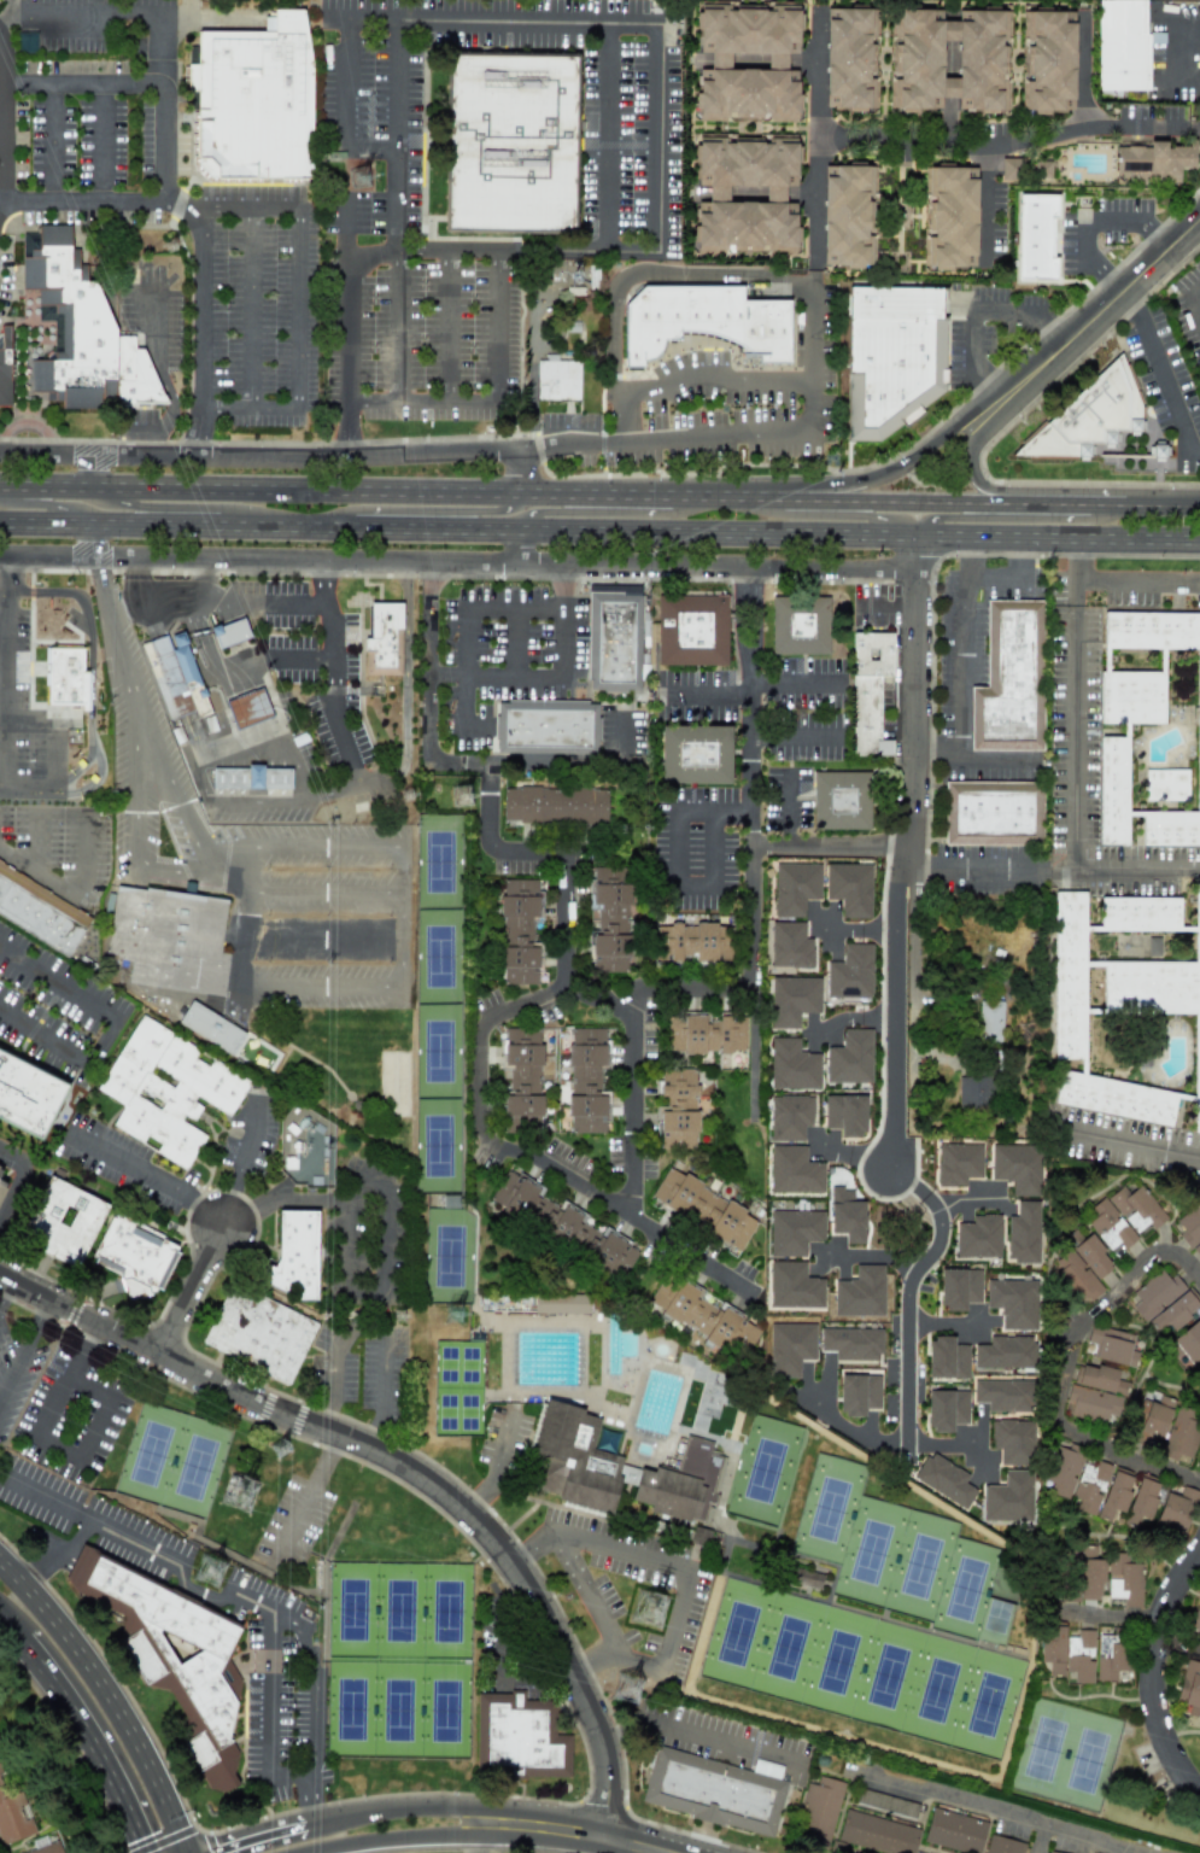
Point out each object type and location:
road: (165, 17)
road: (556, 19)
building: (27, 41)
road: (1189, 42)
building: (1122, 45)
building: (949, 60)
building: (745, 62)
building: (1047, 62)
road: (1079, 71)
road: (84, 82)
building: (1199, 84)
road: (400, 86)
building: (254, 100)
road: (6, 119)
road: (1106, 124)
road: (1199, 130)
road: (1199, 131)
road: (608, 135)
road: (53, 141)
road: (106, 141)
building: (511, 141)
road: (831, 144)
road: (634, 146)
road: (370, 150)
building: (1154, 162)
building: (1011, 169)
building: (1043, 171)
power tower: (365, 177)
road: (985, 188)
building: (744, 194)
road: (812, 199)
road: (88, 200)
road: (188, 203)
building: (847, 215)
building: (948, 218)
road: (1113, 224)
road: (1153, 236)
building: (1035, 239)
road: (1083, 245)
power tower: (175, 246)
road: (503, 250)
road: (810, 268)
road: (708, 273)
road: (1102, 273)
road: (397, 275)
road: (299, 280)
road: (1130, 297)
road: (1001, 311)
road: (1089, 316)
building: (703, 320)
road: (449, 326)
road: (349, 328)
road: (1041, 329)
building: (80, 332)
road: (973, 344)
building: (896, 353)
building: (4, 366)
building: (557, 378)
road: (162, 380)
road: (1164, 382)
road: (713, 387)
road: (984, 390)
road: (492, 397)
road: (227, 409)
building: (1089, 416)
parking lot: (567, 420)
road: (193, 431)
road: (1001, 432)
road: (267, 443)
road: (911, 445)
road: (478, 451)
road: (47, 454)
road: (121, 455)
road: (93, 469)
road: (517, 472)
road: (973, 472)
road: (877, 477)
road: (46, 485)
road: (428, 490)
road: (892, 501)
road: (1072, 504)
road: (1161, 504)
road: (47, 505)
road: (178, 505)
road: (428, 510)
road: (608, 512)
road: (841, 515)
road: (1007, 518)
road: (457, 525)
road: (1056, 536)
road: (516, 544)
road: (914, 551)
road: (970, 554)
road: (970, 556)
road: (1023, 556)
road: (1076, 557)
road: (456, 561)
road: (41, 569)
road: (487, 575)
road: (997, 577)
road: (1035, 577)
road: (1137, 580)
road: (4, 595)
road: (1199, 596)
road: (267, 600)
road: (515, 607)
road: (147, 608)
road: (888, 608)
road: (563, 620)
building: (798, 625)
road: (107, 626)
building: (691, 630)
building: (229, 632)
road: (30, 637)
building: (382, 638)
road: (515, 641)
building: (613, 641)
road: (280, 656)
road: (90, 664)
road: (960, 664)
road: (464, 670)
road: (494, 673)
road: (6, 674)
building: (64, 676)
building: (175, 676)
building: (1009, 678)
road: (796, 683)
road: (404, 686)
building: (868, 691)
road: (707, 696)
road: (753, 702)
building: (248, 708)
building: (546, 726)
building: (1151, 727)
road: (49, 738)
road: (796, 738)
building: (693, 753)
road: (920, 755)
road: (977, 756)
road: (440, 761)
road: (579, 762)
building: (251, 777)
road: (90, 782)
road: (1076, 783)
road: (203, 784)
road: (30, 791)
power tower: (406, 796)
power tower: (466, 797)
road: (306, 799)
road: (926, 799)
building: (841, 800)
road: (177, 801)
building: (554, 805)
road: (789, 811)
building: (993, 812)
road: (140, 837)
road: (36, 841)
road: (585, 854)
road: (674, 863)
road: (972, 866)
road: (901, 871)
road: (229, 875)
road: (321, 885)
building: (795, 888)
building: (849, 888)
road: (71, 889)
road: (751, 900)
building: (40, 910)
building: (609, 920)
building: (520, 930)
road: (320, 936)
building: (169, 939)
building: (692, 942)
building: (790, 946)
road: (400, 957)
road: (912, 966)
building: (850, 972)
building: (792, 1000)
park: (438, 1001)
building: (1125, 1007)
road: (851, 1017)
building: (989, 1021)
road: (113, 1027)
building: (211, 1028)
building: (706, 1033)
building: (850, 1058)
building: (792, 1065)
building: (521, 1075)
building: (587, 1080)
road: (637, 1080)
building: (166, 1089)
building: (974, 1092)
building: (28, 1094)
building: (678, 1109)
road: (481, 1113)
building: (845, 1113)
building: (789, 1117)
road: (1135, 1144)
building: (958, 1163)
building: (0, 1167)
building: (1017, 1167)
road: (240, 1170)
building: (794, 1170)
road: (16, 1175)
road: (145, 1175)
building: (1, 1186)
road: (965, 1196)
building: (703, 1209)
building: (847, 1215)
building: (1124, 1217)
road: (387, 1218)
building: (64, 1221)
building: (562, 1224)
building: (1190, 1228)
building: (794, 1231)
building: (1023, 1233)
building: (978, 1237)
park: (447, 1253)
building: (294, 1255)
building: (134, 1256)
building: (1091, 1257)
building: (1076, 1278)
building: (794, 1286)
building: (959, 1288)
road: (192, 1291)
building: (860, 1292)
road: (6, 1293)
road: (906, 1294)
building: (1163, 1300)
building: (1013, 1302)
building: (561, 1303)
building: (703, 1315)
power tower: (459, 1316)
power tower: (406, 1323)
road: (943, 1323)
building: (258, 1334)
building: (851, 1343)
building: (1112, 1345)
building: (1186, 1346)
building: (790, 1348)
building: (1005, 1352)
road: (27, 1355)
building: (947, 1357)
road: (1063, 1367)
road: (329, 1378)
park: (457, 1386)
road: (382, 1393)
building: (859, 1393)
building: (1094, 1393)
building: (1003, 1395)
building: (947, 1409)
building: (1151, 1421)
road: (850, 1430)
building: (1181, 1434)
building: (1012, 1440)
road: (936, 1443)
road: (54, 1449)
power tower: (283, 1450)
park: (172, 1459)
road: (400, 1463)
road: (497, 1466)
building: (616, 1468)
park: (763, 1469)
building: (944, 1479)
building: (1087, 1483)
road: (310, 1486)
power tower: (246, 1496)
building: (1008, 1497)
building: (1141, 1502)
building: (1176, 1509)
road: (596, 1542)
park: (892, 1550)
road: (60, 1556)
power tower: (213, 1573)
building: (1085, 1577)
building: (806, 1578)
building: (1124, 1580)
road: (216, 1595)
building: (1199, 1595)
power tower: (654, 1606)
road: (596, 1614)
building: (1195, 1626)
road: (6, 1635)
road: (667, 1646)
road: (1176, 1646)
building: (1052, 1649)
building: (172, 1655)
building: (1079, 1655)
building: (1111, 1655)
road: (592, 1656)
park: (397, 1658)
park: (862, 1664)
road: (1149, 1670)
power tower: (628, 1685)
building: (1189, 1690)
road: (110, 1695)
road: (269, 1717)
road: (693, 1731)
building: (521, 1736)
road: (89, 1740)
park: (1064, 1754)
road: (589, 1760)
building: (715, 1790)
road: (949, 1795)
road: (312, 1799)
road: (393, 1805)
building: (819, 1812)
building: (12, 1814)
road: (540, 1824)
road: (263, 1826)
building: (954, 1831)
road: (1082, 1831)
building: (877, 1832)
road: (475, 1835)
road: (393, 1837)
road: (633, 1845)
building: (1002, 1845)
building: (48, 1849)
road: (213, 1849)
building: (1052, 1852)

